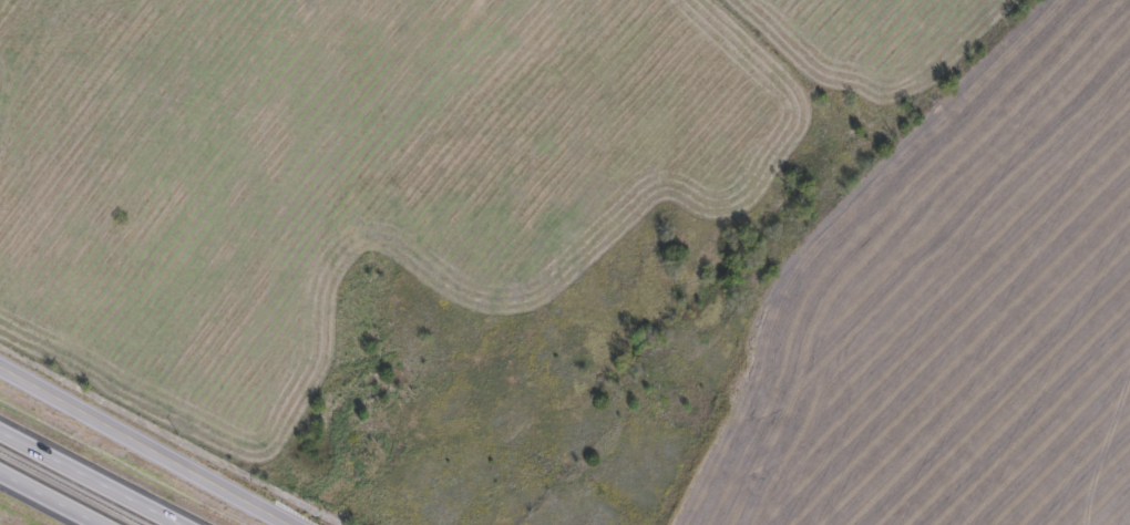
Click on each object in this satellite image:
road: (147, 444)
road: (90, 477)
road: (50, 498)

